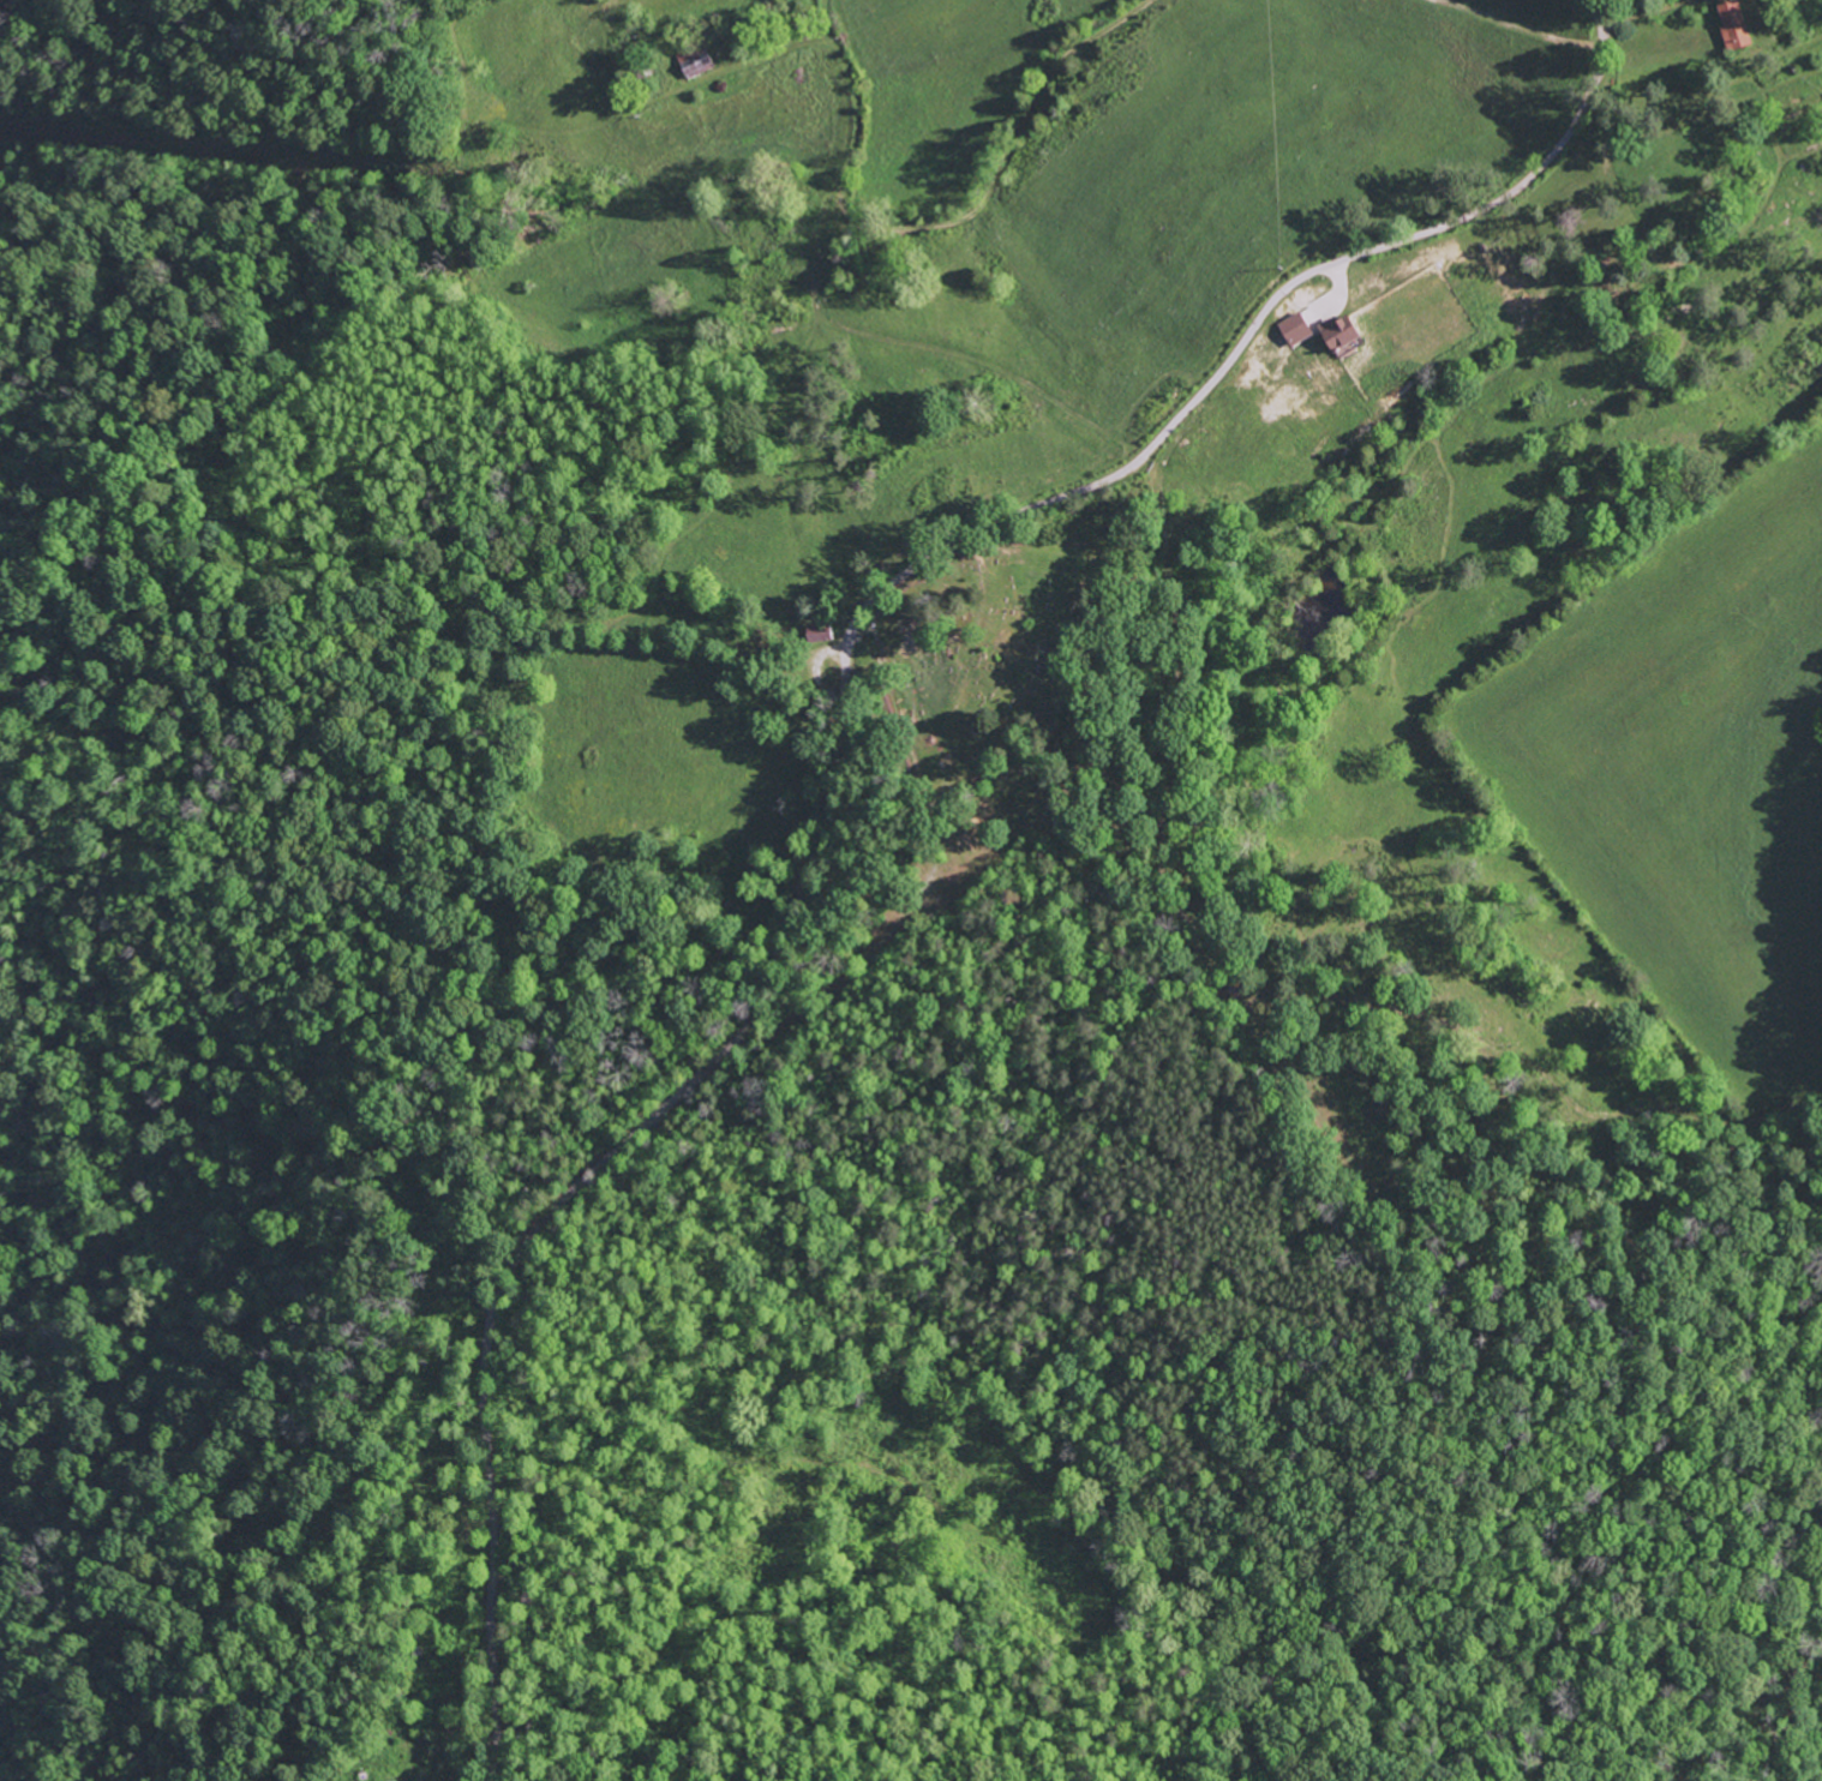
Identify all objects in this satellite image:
building: (1725, 0)
road: (1592, 10)
road: (1670, 12)
building: (1739, 26)
building: (700, 61)
road: (831, 283)
building: (1301, 330)
building: (1347, 334)
park: (996, 697)
road: (843, 757)
road: (1570, 1721)

